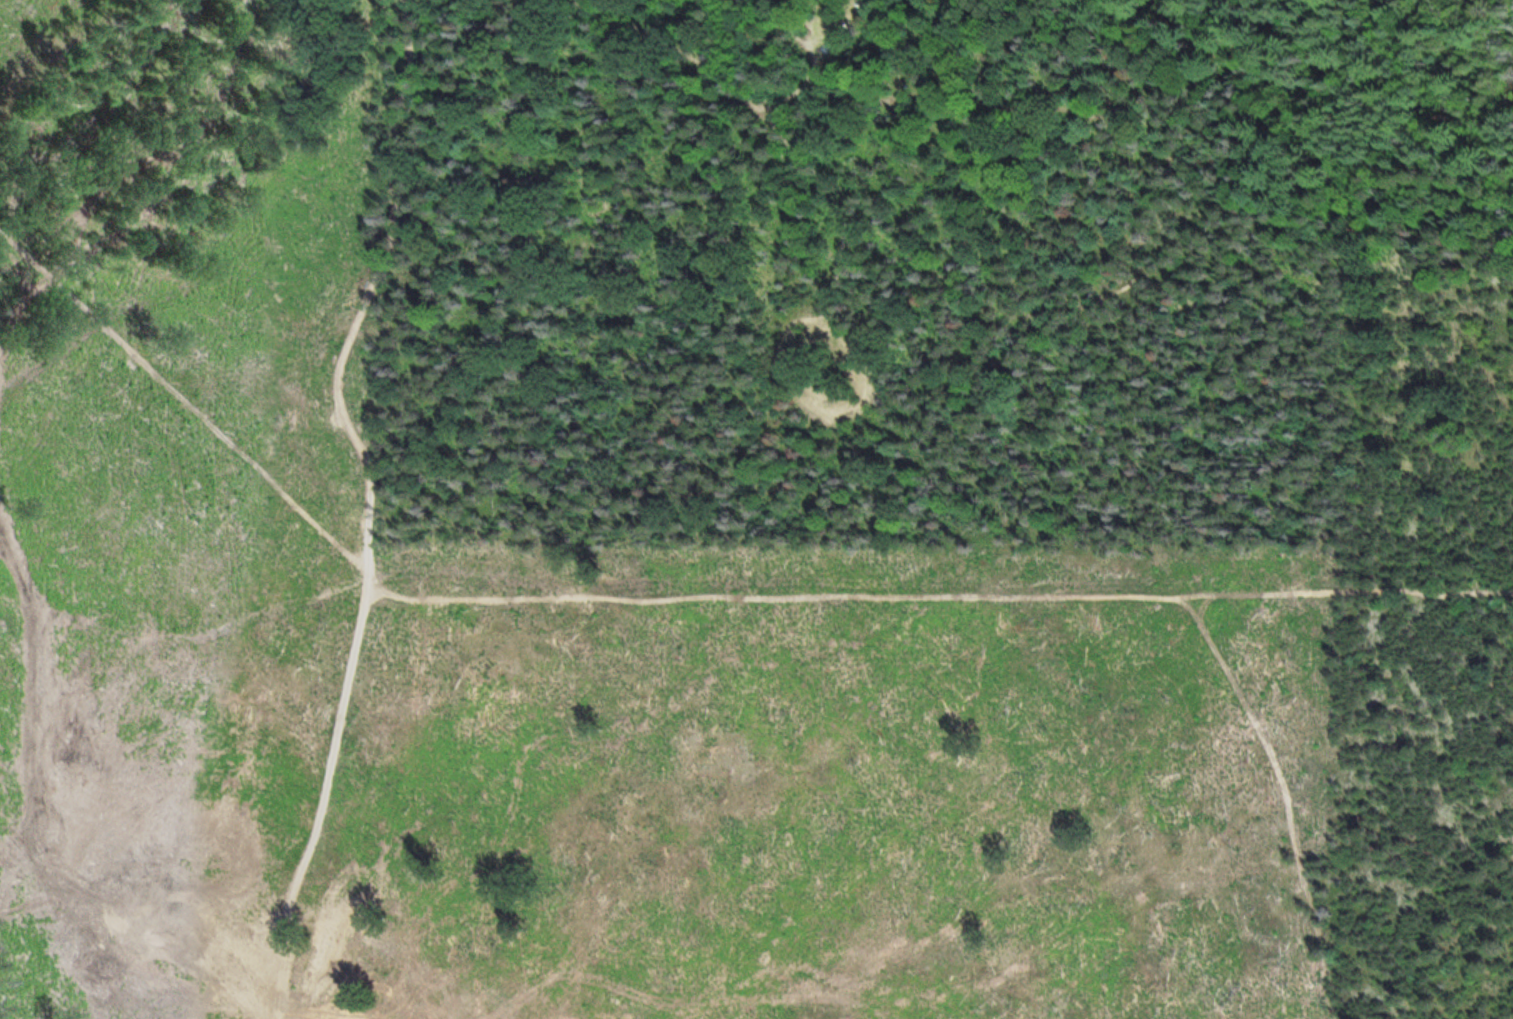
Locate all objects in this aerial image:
road: (815, 67)
road: (779, 116)
road: (842, 203)
road: (793, 380)
road: (639, 594)
road: (1079, 615)
road: (327, 793)

